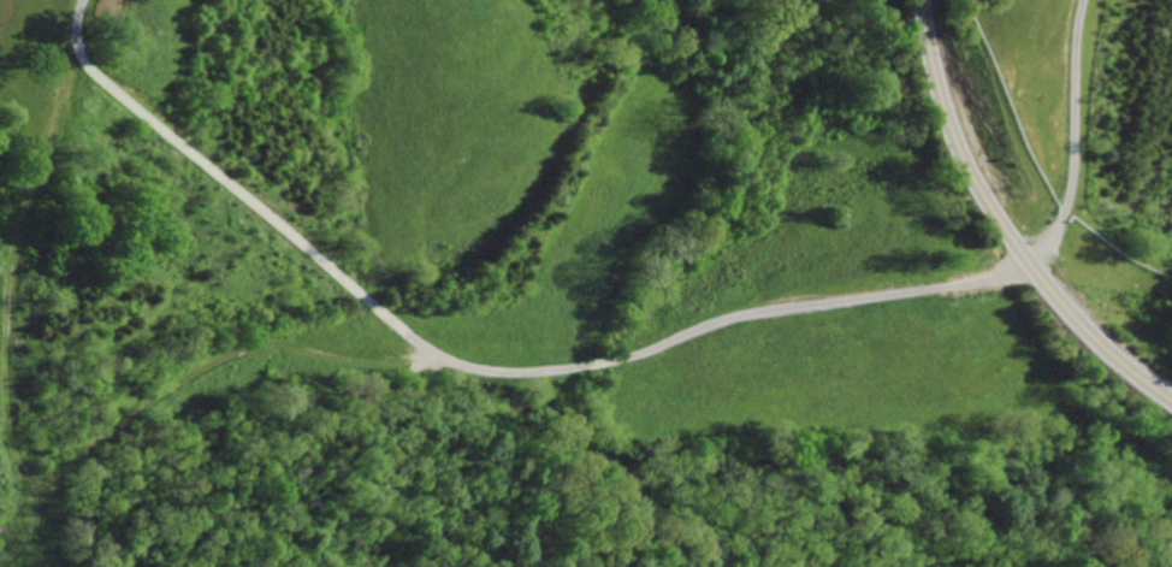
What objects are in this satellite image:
road: (1071, 138)
road: (958, 141)
road: (258, 212)
road: (1094, 342)
road: (268, 347)

